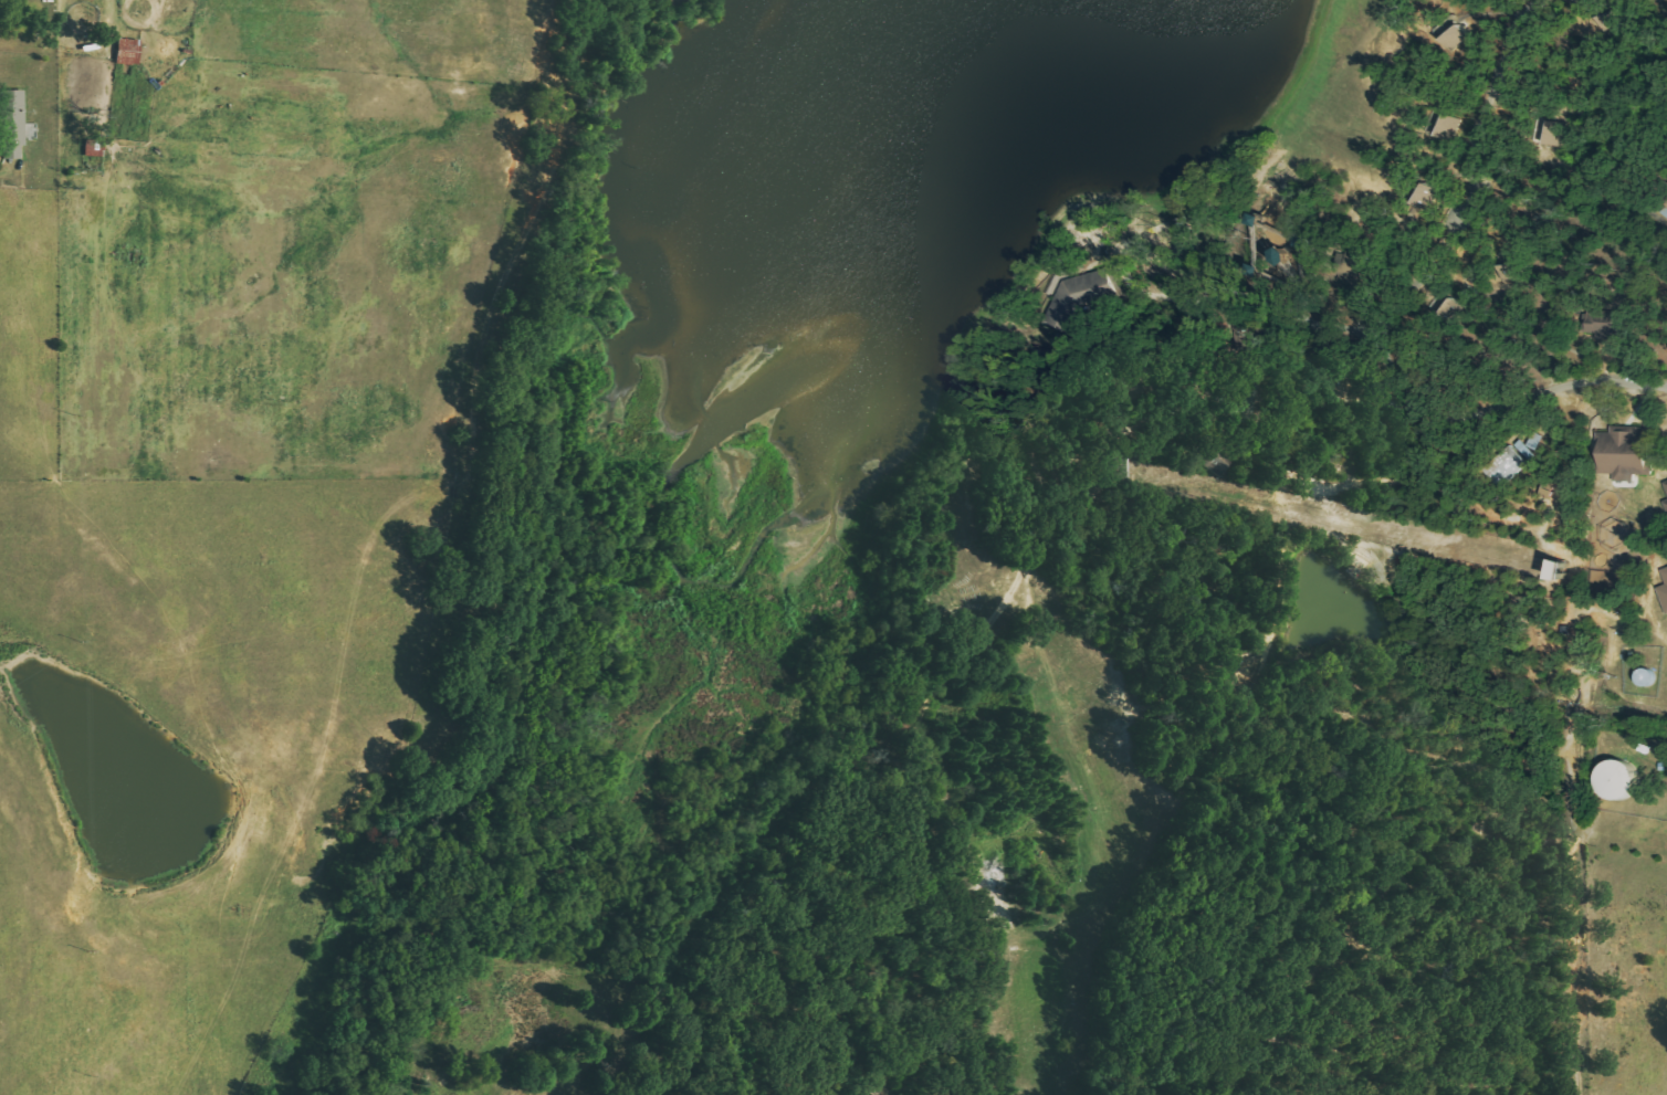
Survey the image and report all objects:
road: (106, 1)
road: (1654, 13)
road: (1498, 14)
building: (1614, 20)
road: (1385, 25)
building: (1457, 38)
building: (129, 51)
road: (1377, 86)
building: (14, 123)
building: (1446, 127)
building: (1554, 134)
road: (1563, 156)
road: (1589, 160)
road: (1505, 171)
building: (1425, 196)
building: (1666, 204)
road: (1275, 208)
road: (1199, 217)
building: (1535, 228)
road: (1409, 245)
road: (1643, 245)
road: (1084, 263)
building: (1361, 270)
building: (1514, 275)
road: (1524, 275)
building: (1093, 286)
building: (1066, 309)
road: (1279, 313)
building: (1444, 313)
road: (1394, 314)
road: (1505, 318)
road: (1548, 323)
road: (1178, 324)
building: (1602, 324)
building: (1247, 337)
road: (1604, 365)
building: (1354, 380)
building: (1140, 383)
road: (1373, 399)
road: (1506, 424)
road: (1509, 444)
building: (1623, 452)
building: (1215, 457)
road: (973, 462)
road: (1468, 481)
building: (1666, 485)
road: (1448, 492)
road: (1582, 493)
road: (1629, 503)
building: (1665, 504)
road: (1167, 508)
road: (1543, 528)
road: (1369, 550)
park: (1129, 555)
theme park: (1129, 555)
road: (1653, 578)
building: (1664, 588)
road: (984, 593)
road: (1202, 603)
road: (1601, 611)
road: (973, 650)
road: (1489, 668)
road: (1528, 671)
road: (1177, 694)
road: (1088, 699)
road: (1527, 729)
building: (1623, 781)
road: (1619, 843)
road: (1572, 849)
road: (1408, 851)
road: (835, 904)
road: (1385, 947)
road: (830, 960)
road: (725, 992)
road: (839, 1043)
road: (1264, 1063)
road: (1465, 1075)

